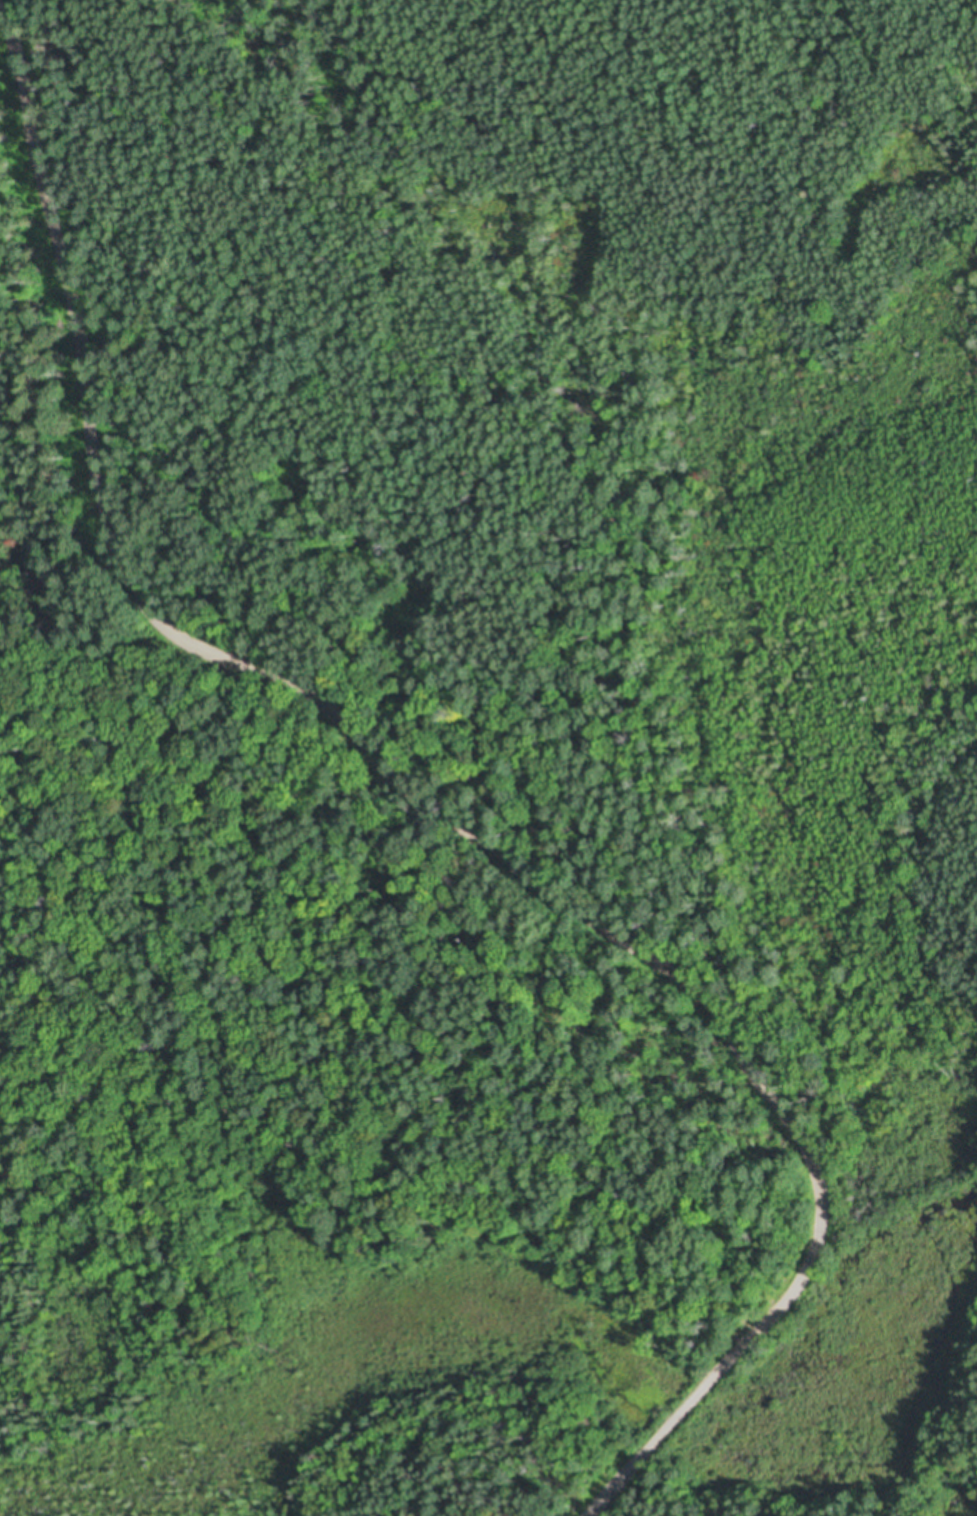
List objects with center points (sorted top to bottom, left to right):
road: (429, 815)

